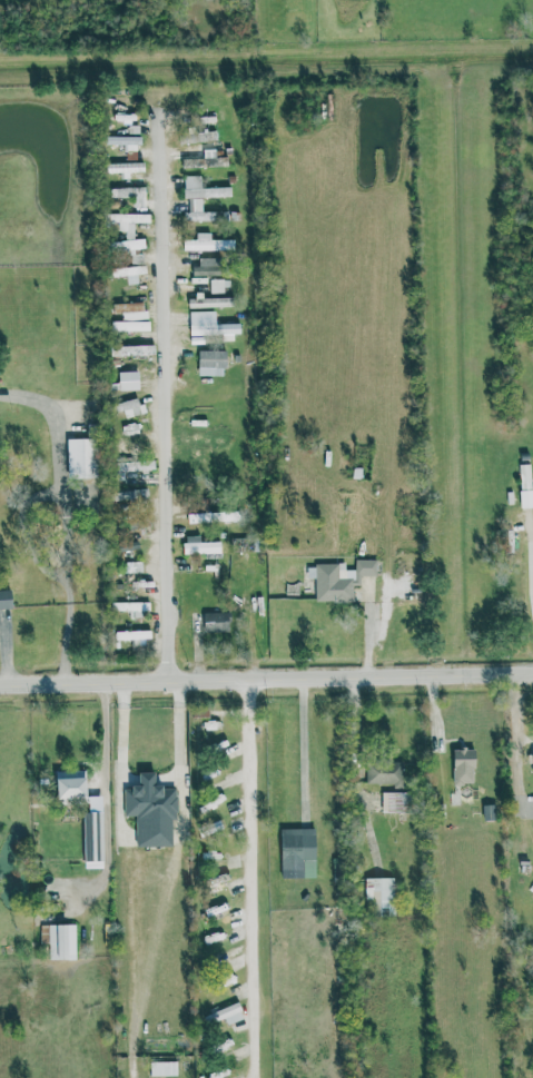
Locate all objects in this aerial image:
building: (197, 136)
building: (128, 140)
building: (205, 160)
building: (125, 168)
building: (203, 189)
building: (130, 194)
building: (203, 212)
building: (129, 237)
building: (207, 244)
building: (207, 267)
building: (128, 273)
building: (208, 301)
building: (130, 310)
building: (211, 325)
building: (131, 326)
building: (132, 349)
building: (211, 363)
road: (289, 370)
building: (128, 380)
road: (161, 397)
building: (131, 407)
building: (81, 458)
building: (134, 465)
building: (213, 516)
road: (65, 520)
building: (201, 547)
building: (340, 580)
road: (532, 585)
building: (6, 599)
building: (130, 606)
building: (216, 621)
building: (135, 637)
road: (266, 675)
road: (181, 691)
road: (125, 693)
road: (108, 738)
road: (519, 740)
road: (307, 745)
road: (125, 748)
road: (182, 749)
building: (532, 759)
building: (463, 767)
building: (384, 772)
road: (151, 778)
building: (70, 784)
building: (394, 802)
building: (152, 808)
building: (488, 812)
building: (92, 837)
building: (297, 853)
road: (357, 876)
road: (248, 877)
building: (379, 893)
building: (60, 940)
building: (227, 1013)

